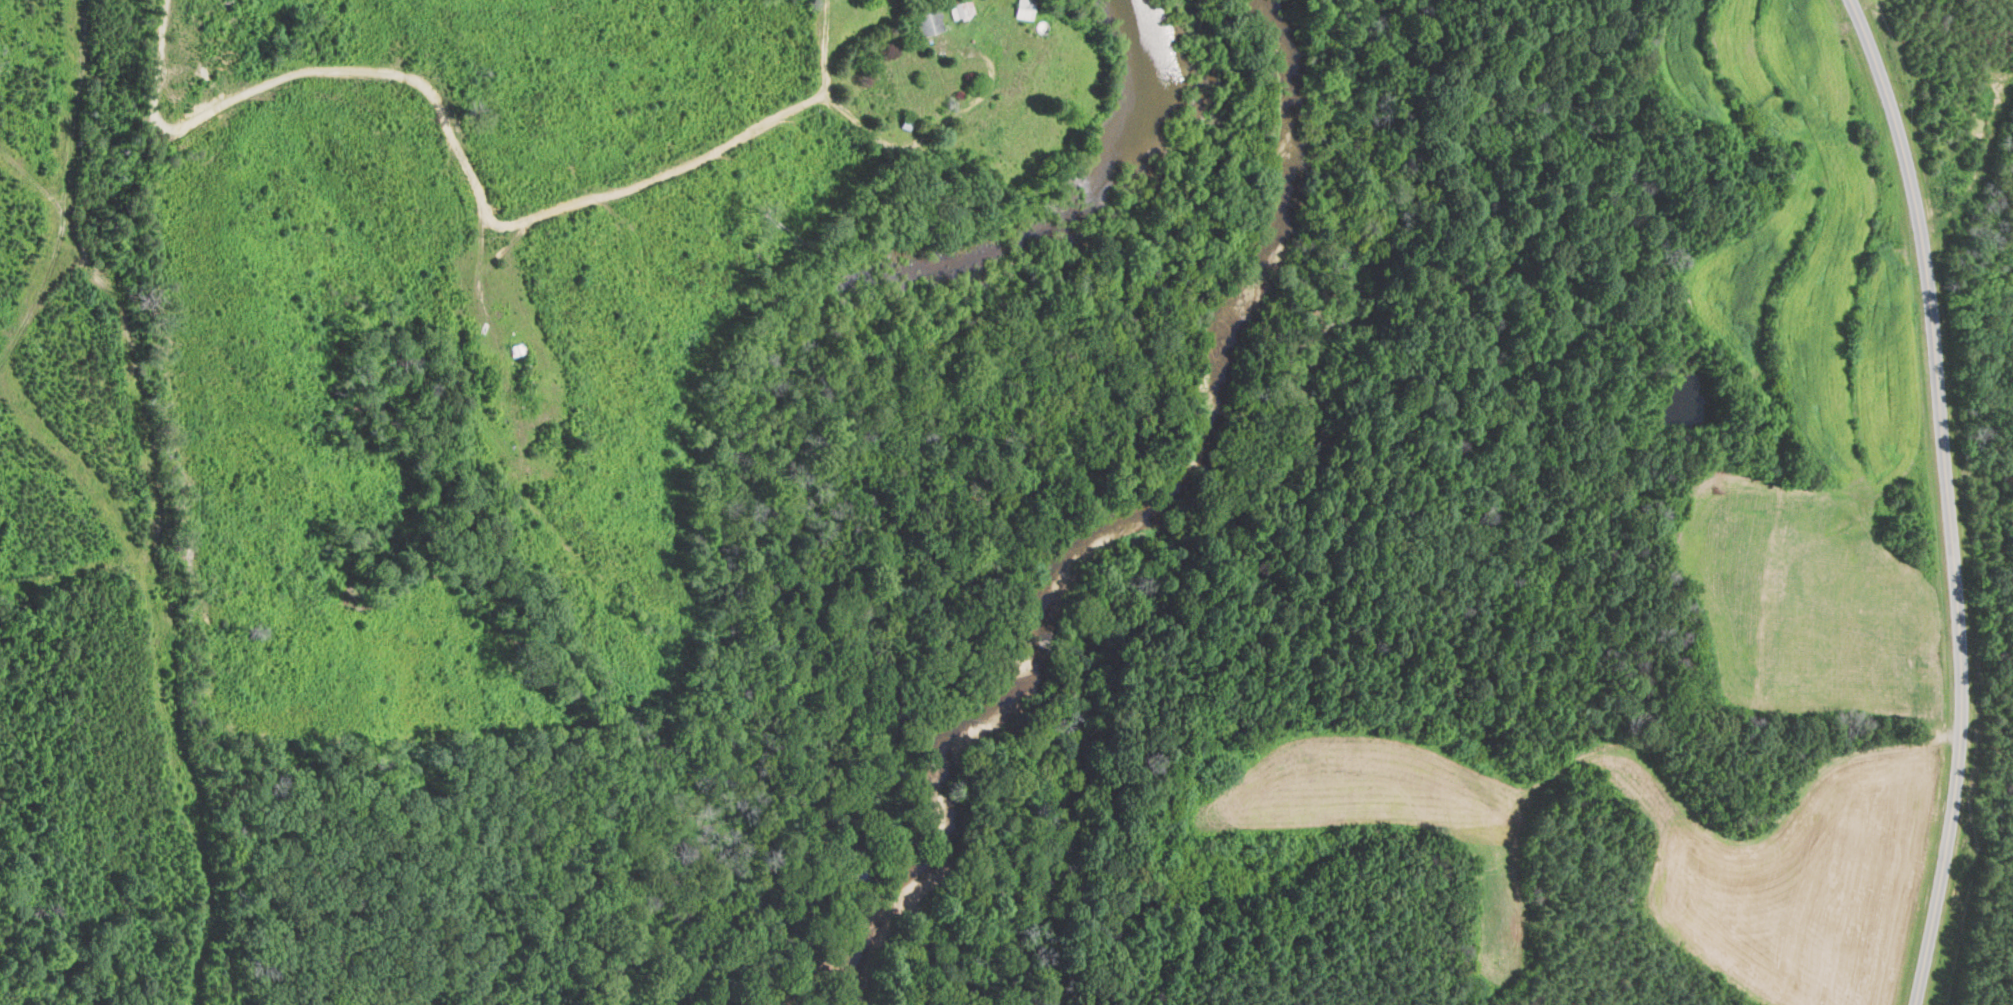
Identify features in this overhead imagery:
building: (960, 8)
building: (1023, 9)
building: (929, 23)
road: (158, 61)
road: (942, 124)
road: (474, 182)
road: (1949, 498)

